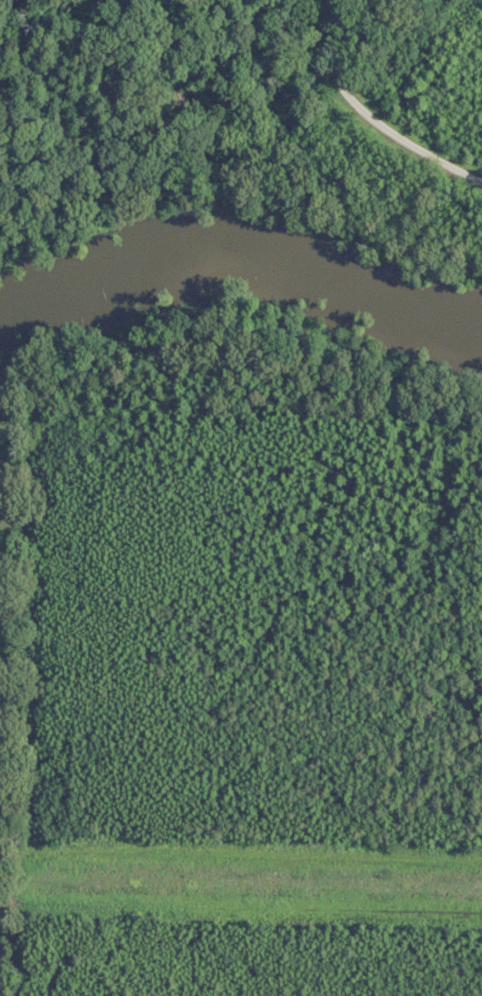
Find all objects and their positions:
road: (367, 111)
road: (241, 893)

